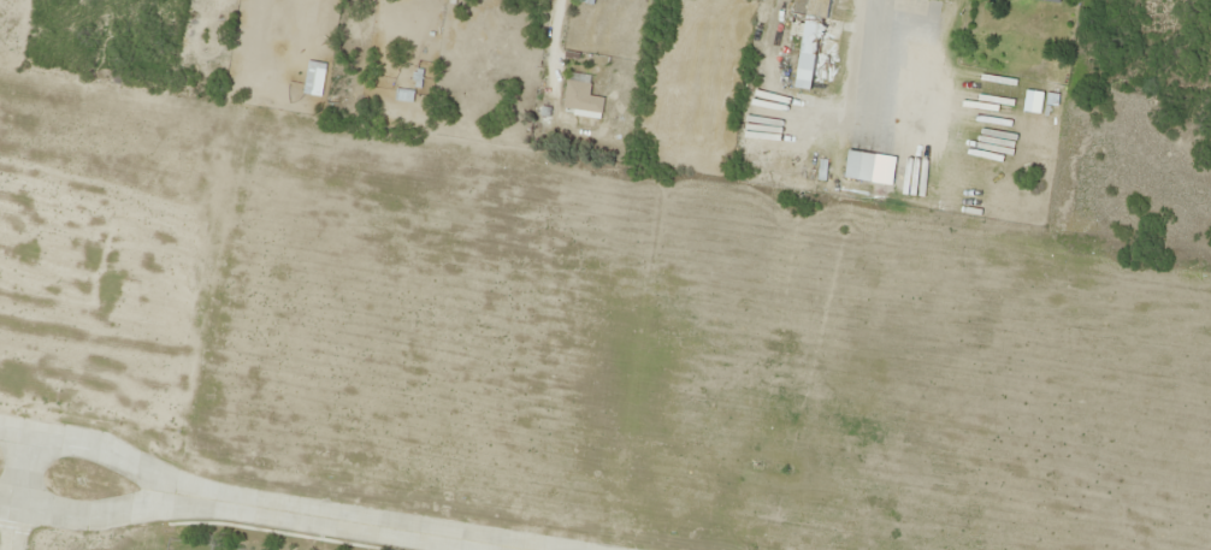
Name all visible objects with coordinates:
building: (811, 36)
building: (580, 97)
road: (95, 444)
road: (22, 491)
road: (90, 515)
road: (372, 520)
road: (548, 549)

